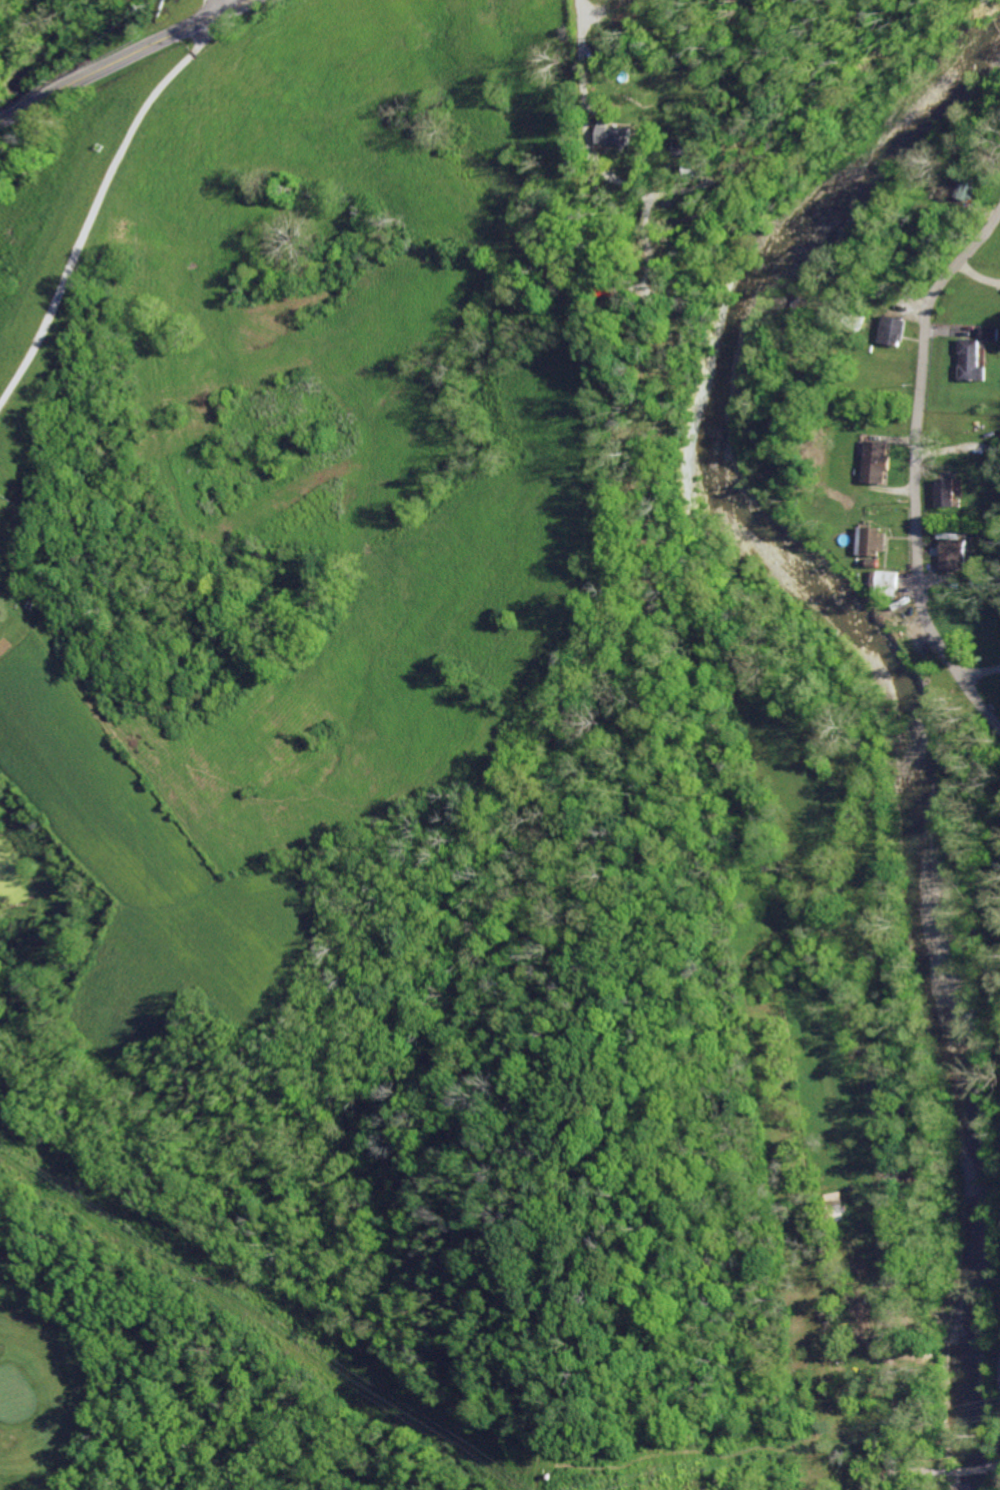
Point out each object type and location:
road: (228, 4)
road: (575, 16)
road: (124, 61)
building: (611, 134)
building: (681, 148)
building: (968, 189)
road: (96, 209)
building: (988, 332)
building: (890, 333)
building: (968, 362)
building: (998, 447)
building: (874, 461)
road: (915, 472)
crop: (273, 482)
building: (942, 493)
building: (870, 542)
building: (944, 555)
building: (882, 579)
building: (978, 580)
road: (892, 1304)
road: (999, 1362)
park: (176, 1373)
park: (16, 1393)
road: (992, 1464)
road: (969, 1470)
road: (890, 1478)

